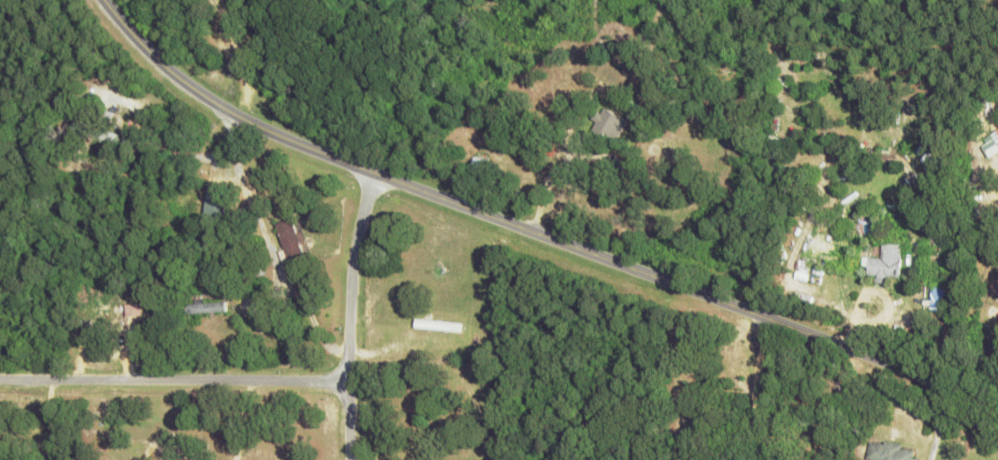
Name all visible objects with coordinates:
building: (608, 125)
road: (533, 233)
building: (289, 240)
building: (883, 263)
building: (935, 298)
building: (205, 306)
road: (348, 314)
building: (437, 324)
road: (172, 376)
building: (887, 451)
building: (761, 459)

